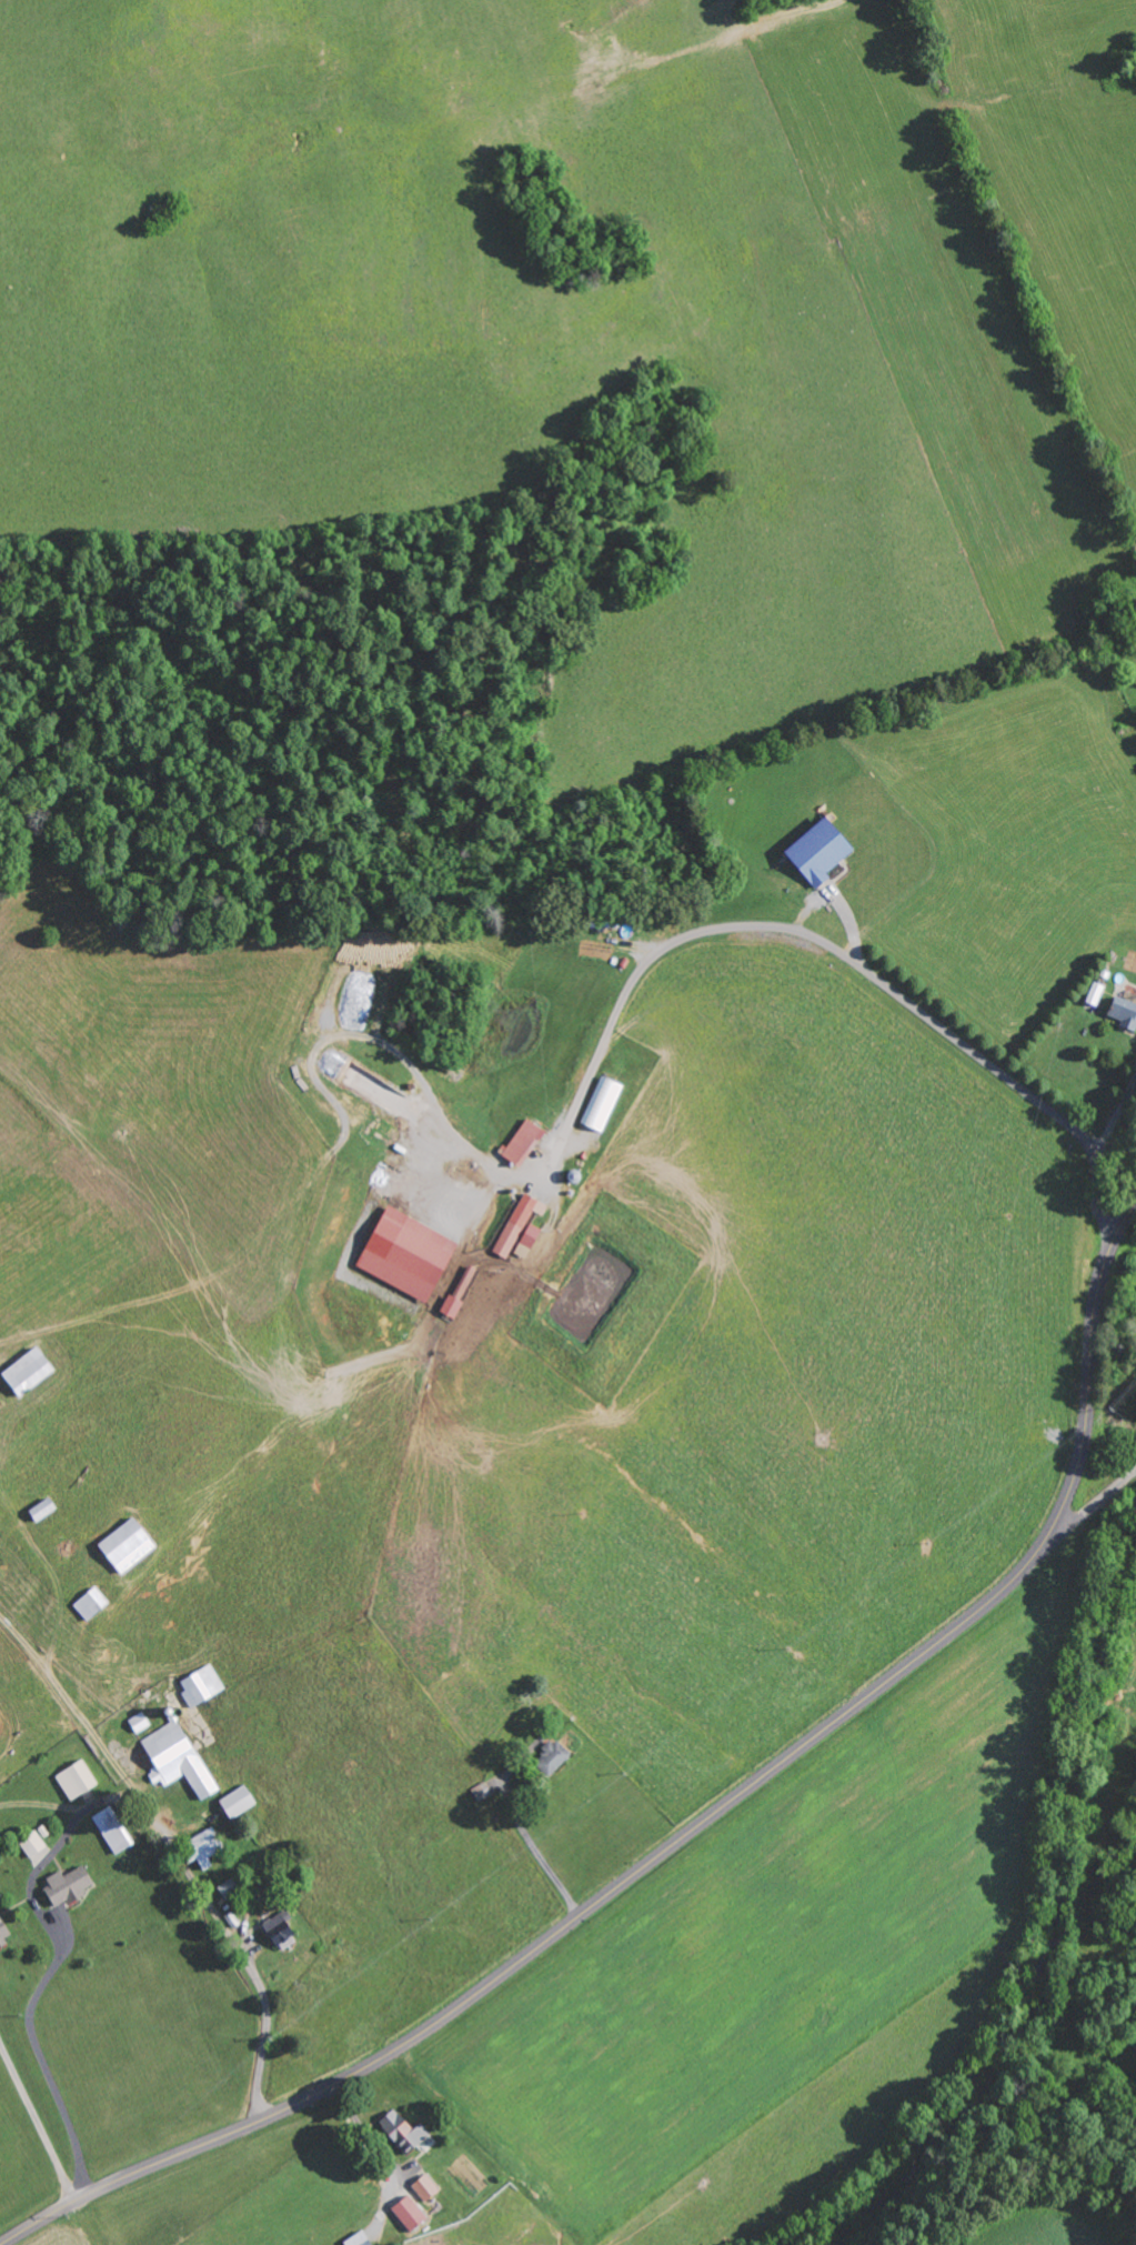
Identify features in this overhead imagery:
building: (820, 851)
building: (1124, 1012)
building: (602, 1104)
building: (523, 1143)
building: (519, 1223)
building: (527, 1241)
building: (408, 1254)
building: (465, 1281)
building: (451, 1306)
building: (28, 1372)
road: (1097, 1497)
building: (42, 1507)
building: (127, 1544)
building: (91, 1602)
building: (202, 1683)
building: (140, 1721)
building: (552, 1755)
building: (178, 1758)
building: (77, 1778)
building: (238, 1801)
road: (693, 1828)
building: (112, 1830)
building: (33, 1844)
building: (202, 1846)
building: (68, 1885)
building: (229, 1887)
building: (281, 1930)
building: (3, 1932)
building: (403, 2132)
building: (425, 2186)
building: (410, 2212)
building: (358, 2239)

